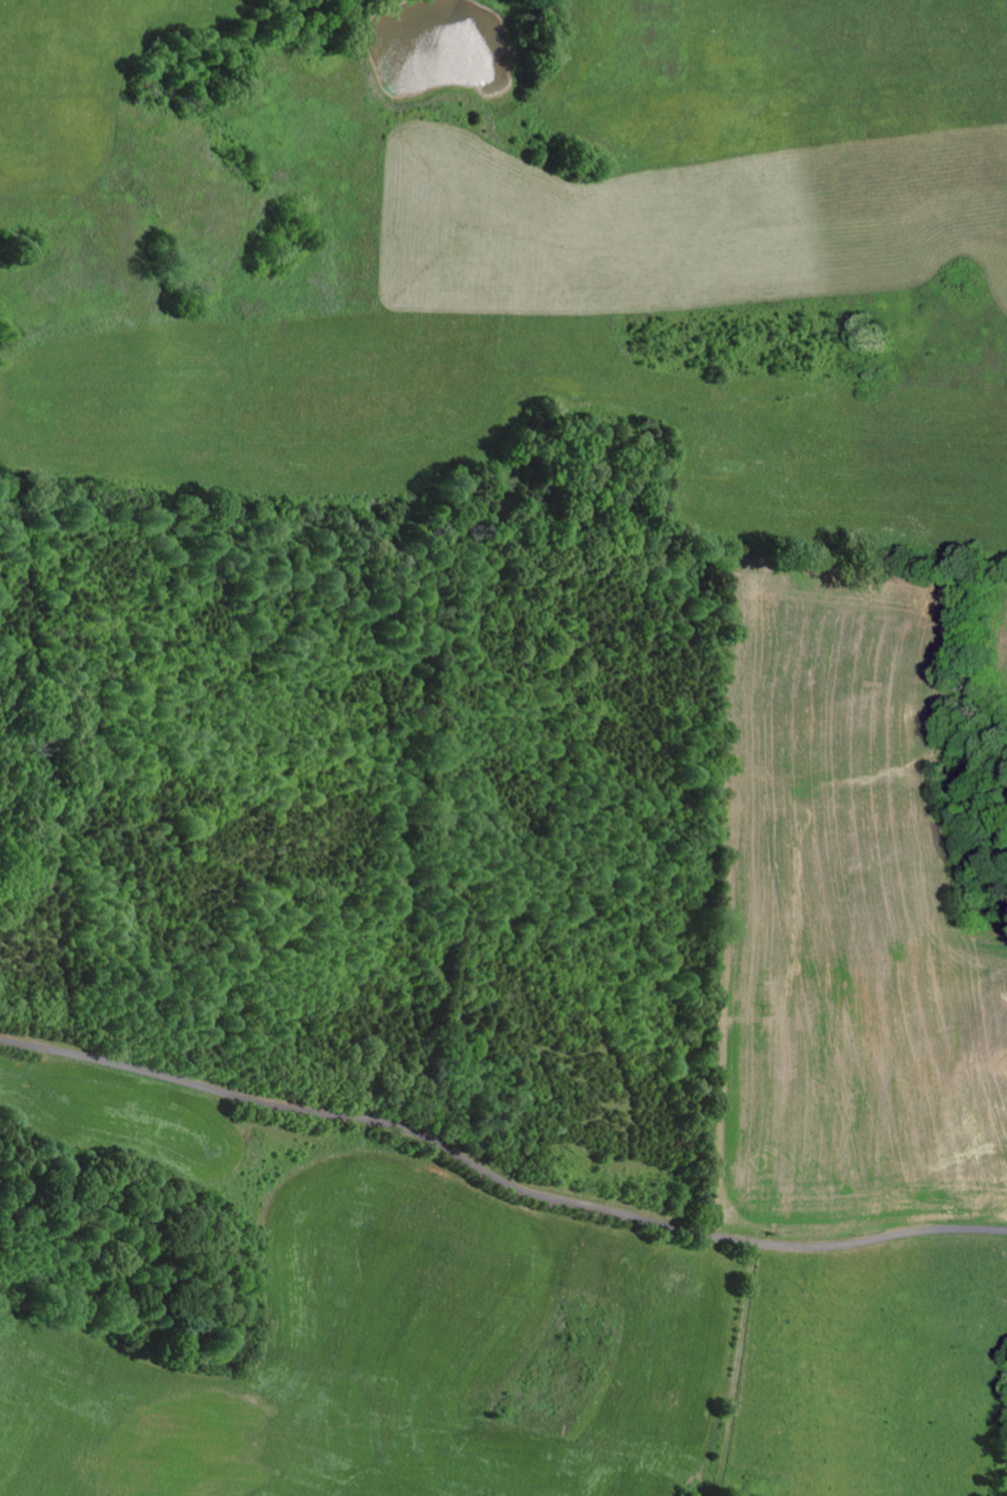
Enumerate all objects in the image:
road: (497, 1178)
road: (702, 1367)

